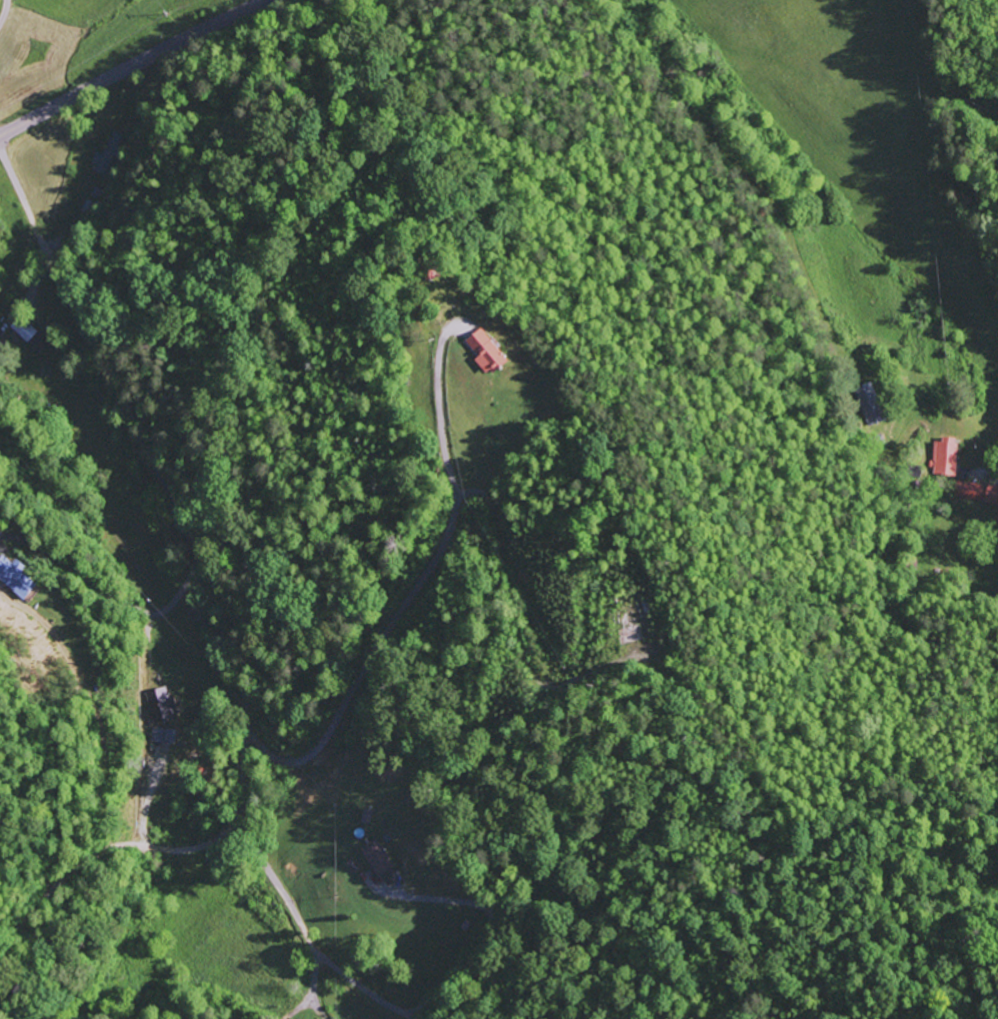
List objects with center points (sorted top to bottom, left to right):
road: (3, 10)
road: (134, 66)
road: (729, 145)
building: (104, 160)
building: (23, 328)
building: (486, 350)
building: (869, 404)
building: (945, 457)
road: (993, 468)
building: (14, 577)
road: (222, 593)
road: (322, 700)
building: (159, 705)
building: (162, 736)
building: (378, 859)
road: (312, 986)

